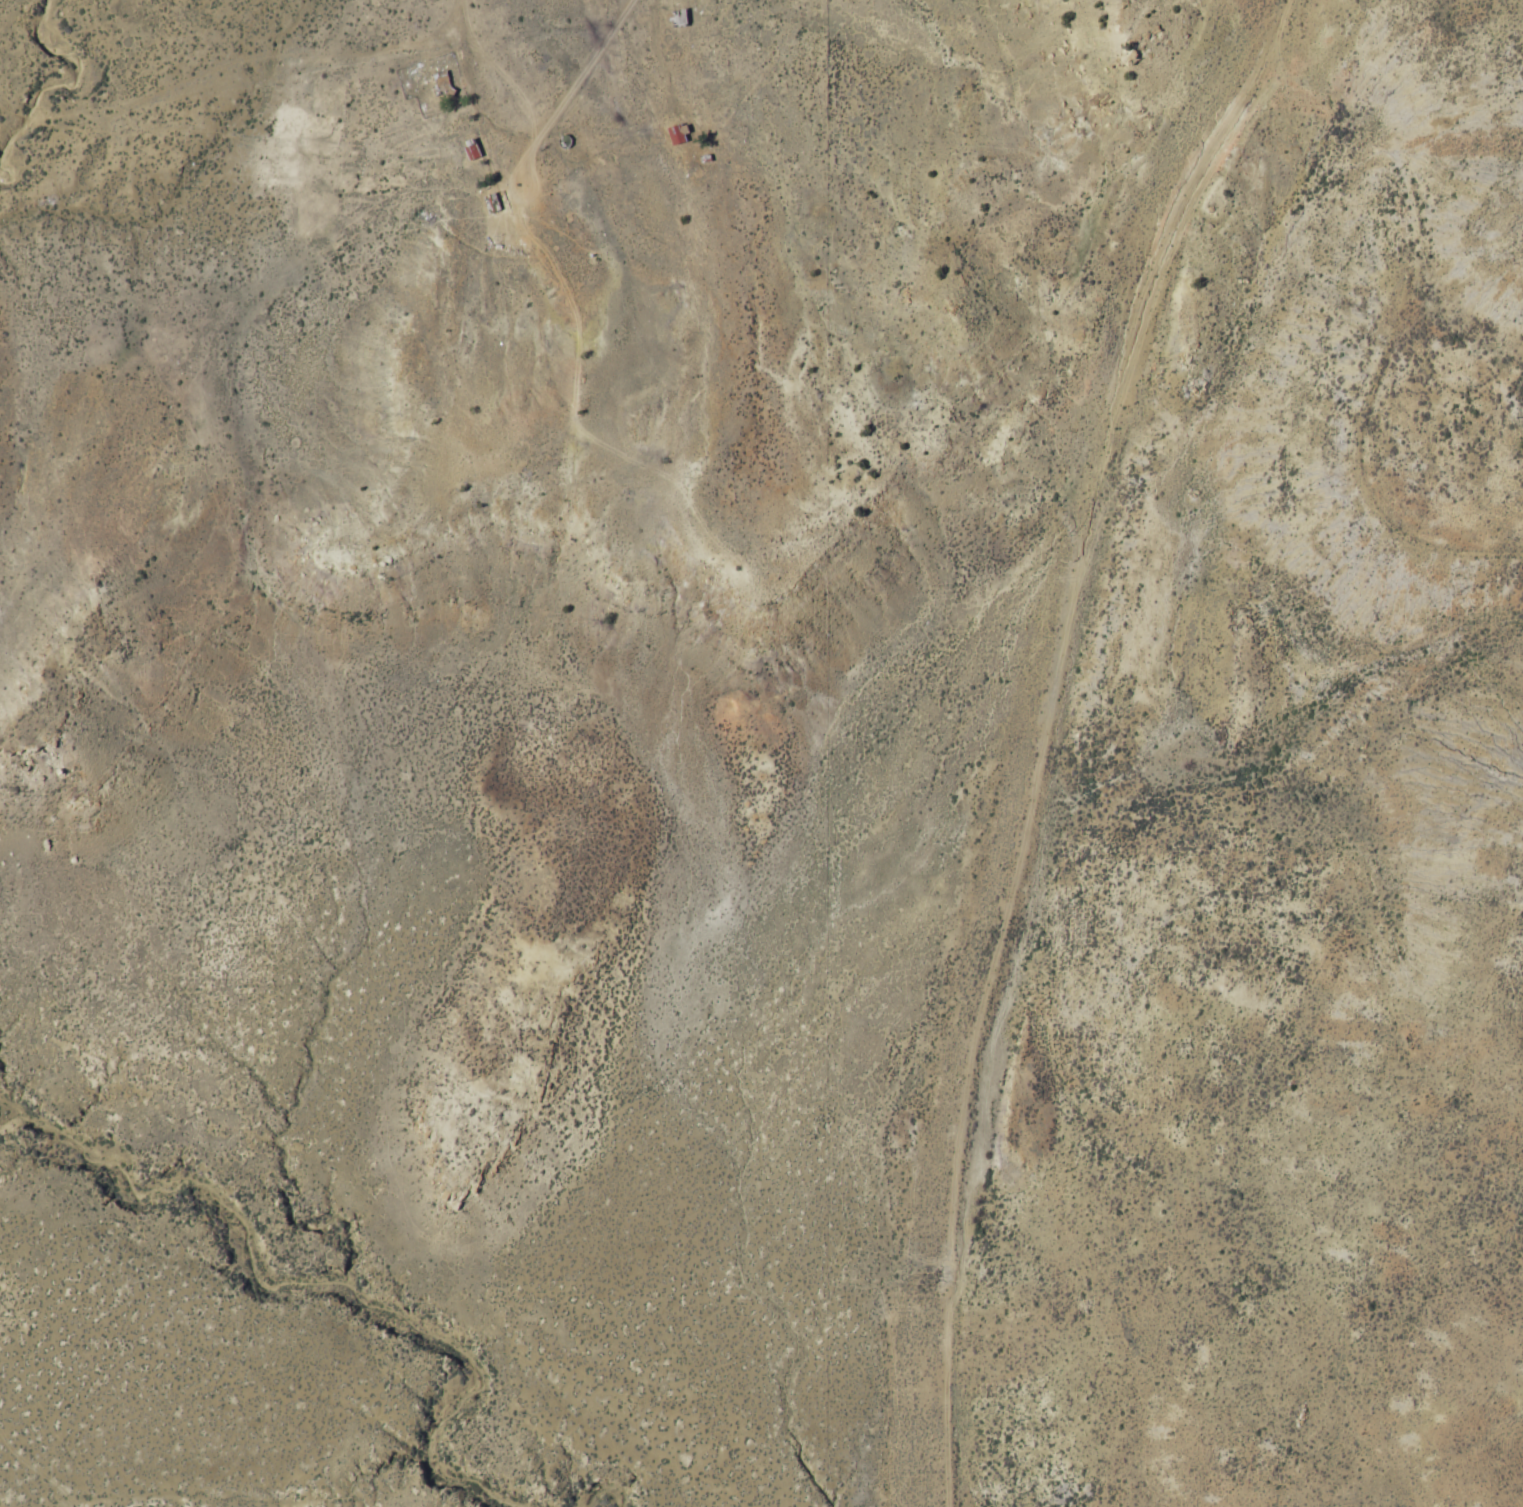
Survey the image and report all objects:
road: (626, 7)
building: (678, 134)
building: (473, 151)
road: (1014, 849)

